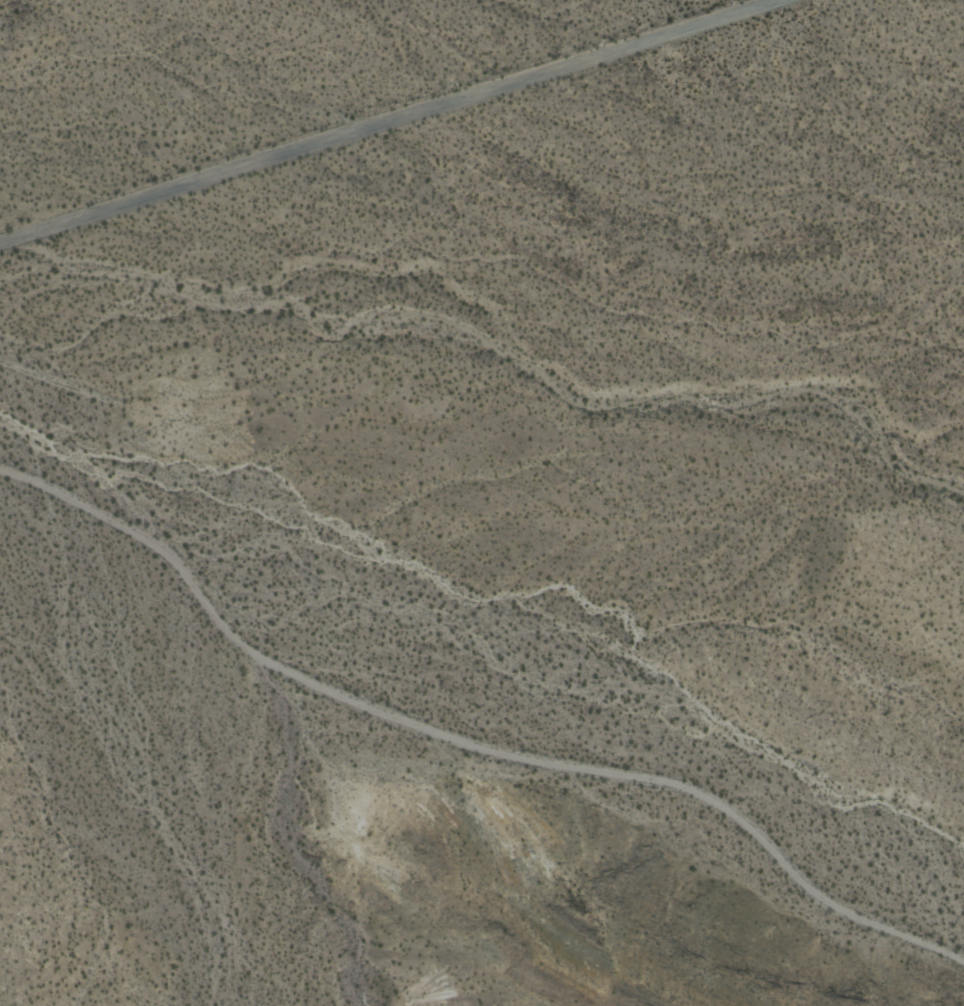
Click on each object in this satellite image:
road: (392, 122)
road: (469, 740)

